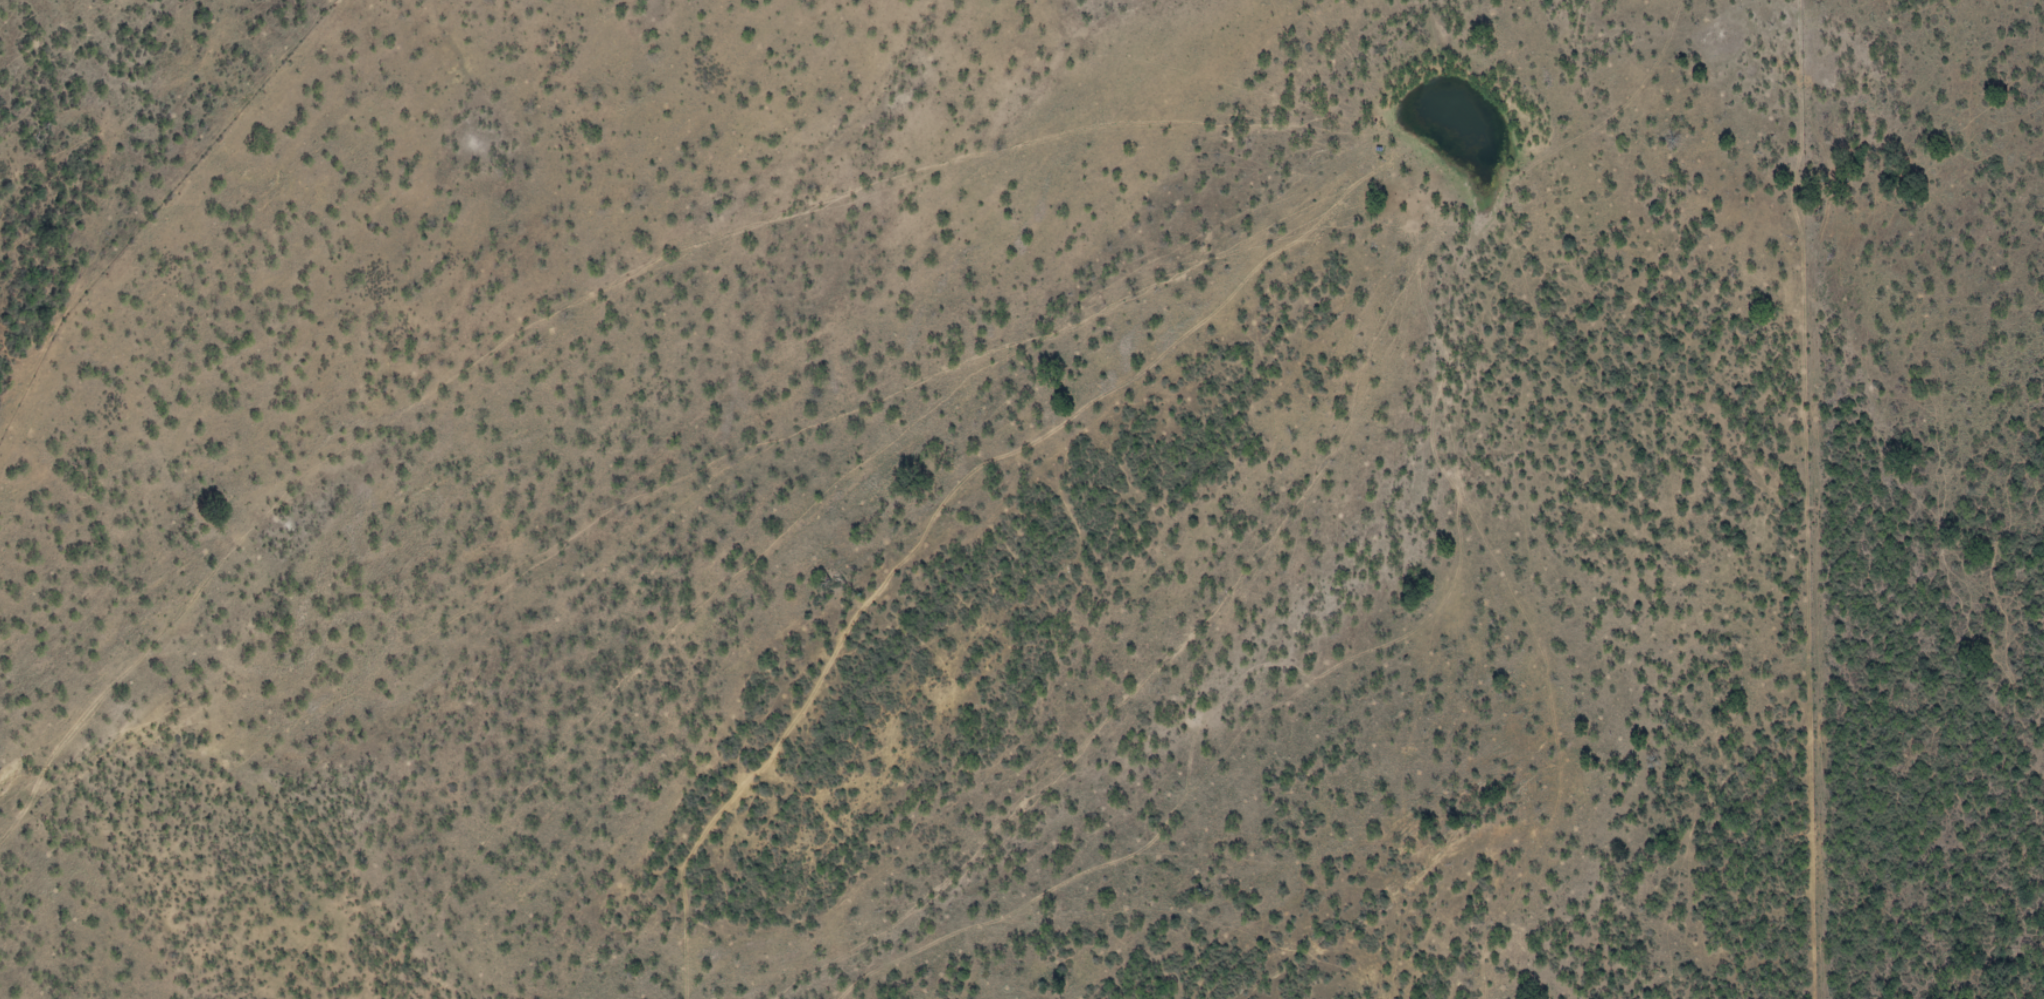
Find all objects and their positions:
road: (1554, 148)
road: (1268, 268)
road: (1814, 495)

